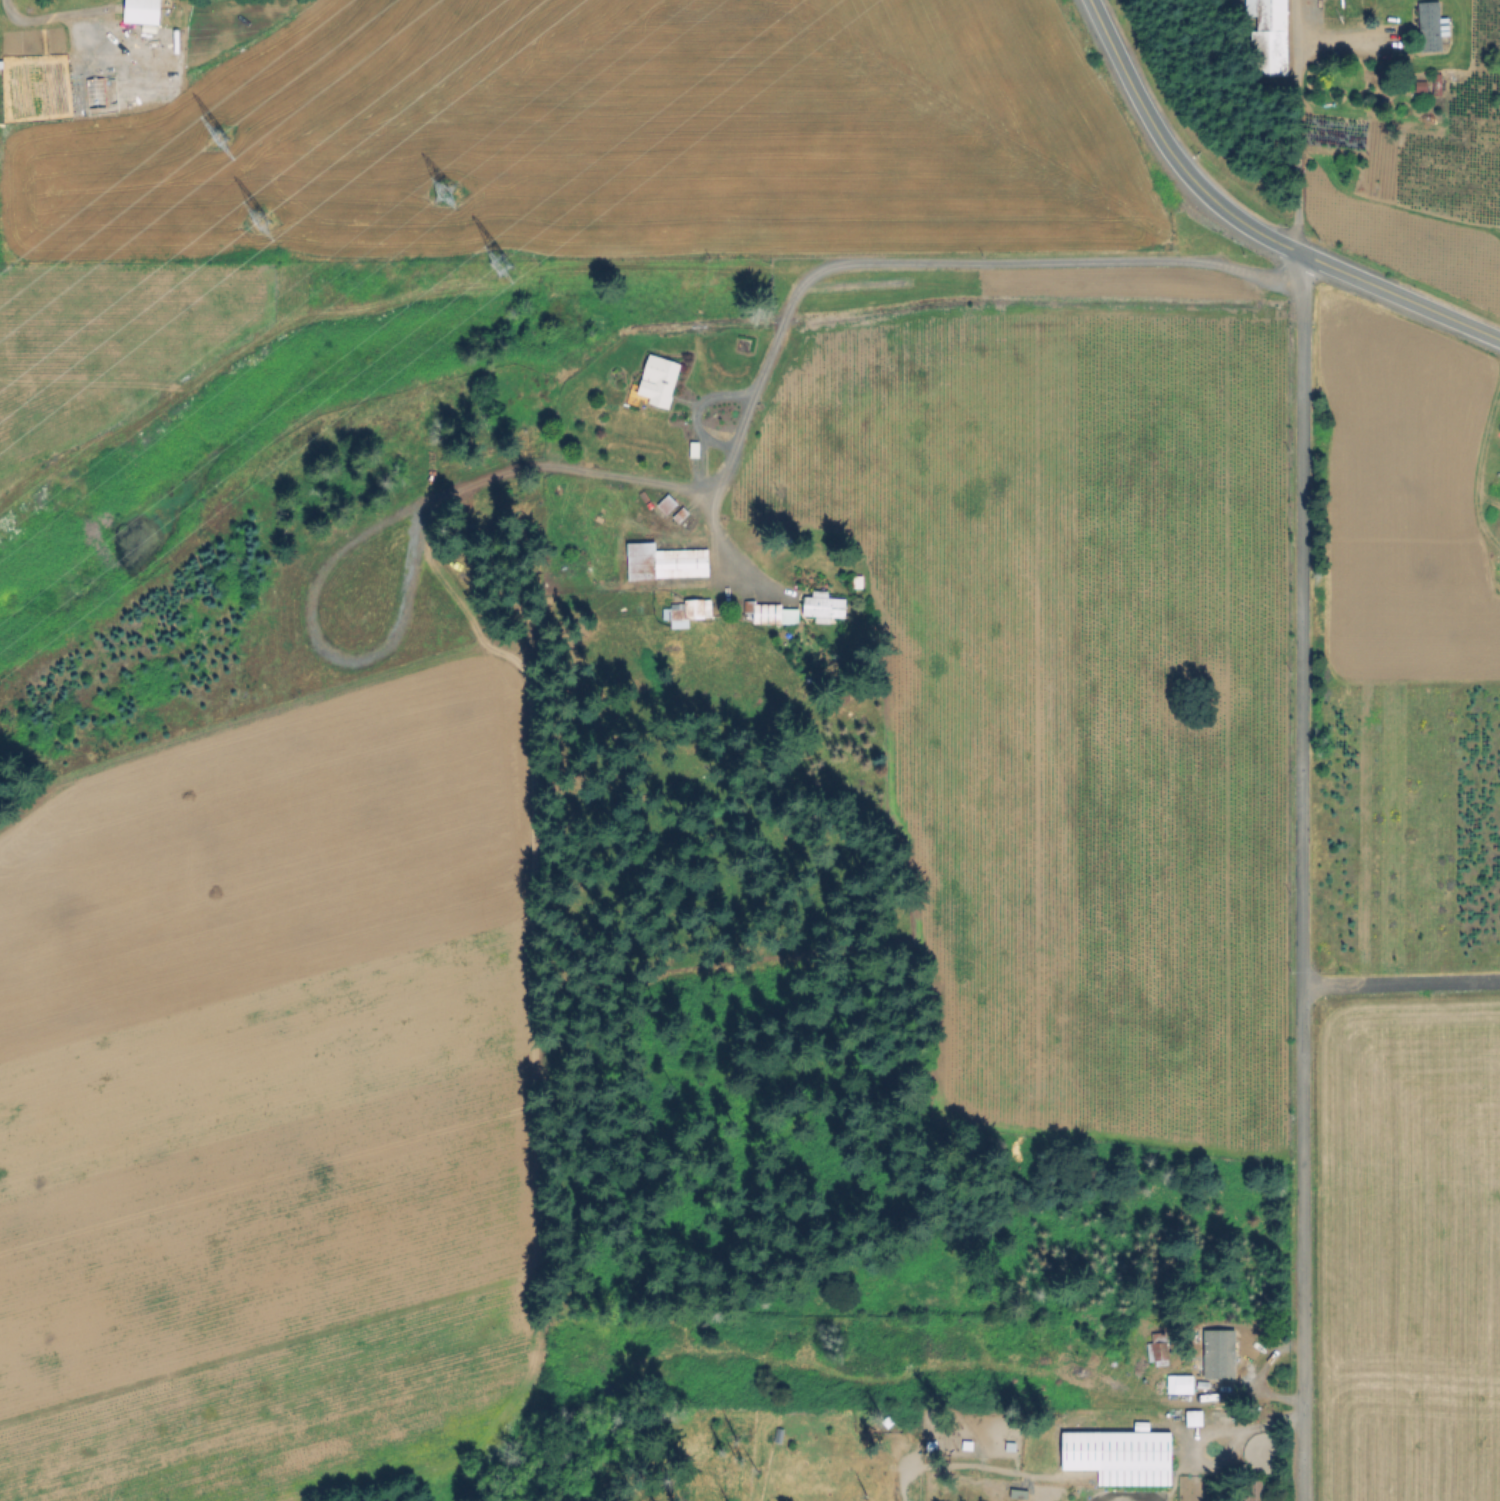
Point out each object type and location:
building: (1342, 5)
building: (141, 9)
road: (11, 14)
building: (1430, 22)
road: (1346, 31)
building: (1269, 38)
road: (1292, 123)
power tower: (212, 133)
power tower: (436, 193)
power tower: (254, 220)
road: (1247, 223)
road: (991, 261)
power tower: (494, 266)
building: (659, 380)
road: (695, 410)
building: (698, 449)
road: (708, 487)
building: (667, 503)
building: (681, 514)
building: (666, 562)
building: (857, 582)
building: (824, 605)
building: (683, 612)
building: (771, 613)
road: (1299, 877)
road: (1399, 985)
crop: (264, 1036)
crop: (1399, 1252)
building: (1160, 1347)
building: (1223, 1357)
building: (1181, 1384)
building: (1197, 1417)
road: (1249, 1425)
building: (1121, 1456)
building: (1252, 1491)
building: (1019, 1494)

